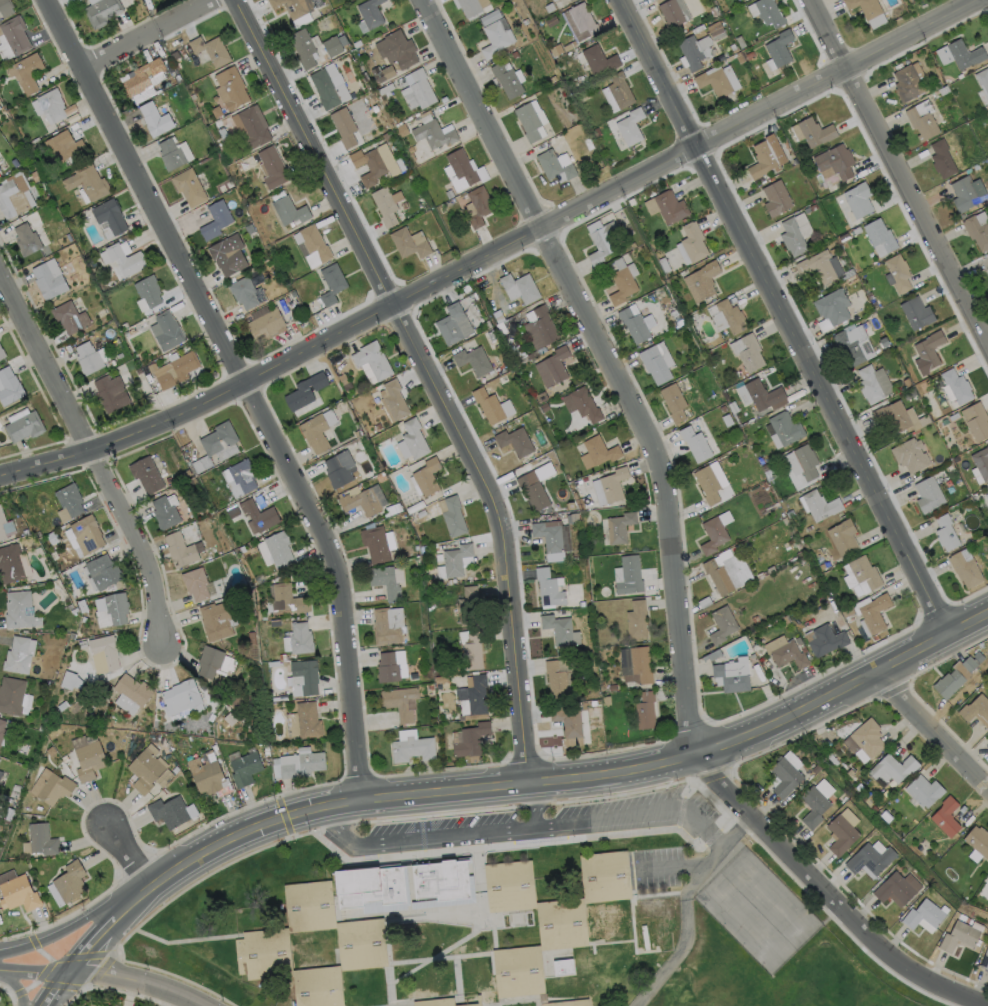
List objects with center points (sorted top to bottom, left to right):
building: (553, 0)
building: (569, 0)
building: (293, 6)
building: (5, 7)
building: (469, 7)
building: (864, 7)
building: (100, 11)
building: (768, 12)
building: (369, 13)
building: (673, 13)
building: (579, 20)
road: (147, 32)
building: (14, 34)
building: (495, 37)
building: (332, 46)
building: (303, 47)
building: (778, 47)
building: (210, 49)
building: (396, 49)
building: (690, 52)
building: (965, 53)
building: (598, 59)
building: (25, 70)
building: (141, 76)
building: (982, 78)
building: (506, 79)
building: (713, 81)
building: (907, 83)
building: (231, 87)
building: (324, 88)
building: (416, 90)
building: (619, 90)
building: (51, 104)
building: (154, 119)
building: (922, 119)
building: (527, 120)
building: (344, 126)
building: (629, 126)
building: (252, 127)
building: (812, 131)
building: (433, 134)
building: (61, 146)
building: (170, 153)
building: (765, 156)
building: (941, 158)
building: (835, 160)
building: (552, 165)
building: (461, 166)
building: (272, 167)
building: (373, 167)
building: (0, 169)
road: (899, 174)
building: (86, 181)
building: (188, 186)
road: (144, 189)
building: (963, 193)
building: (775, 197)
building: (6, 198)
building: (857, 199)
building: (384, 205)
building: (478, 205)
building: (669, 207)
building: (288, 210)
building: (109, 215)
building: (215, 219)
building: (977, 229)
building: (879, 235)
building: (791, 237)
building: (25, 239)
building: (314, 241)
building: (692, 241)
building: (408, 242)
building: (601, 242)
building: (299, 244)
road: (496, 250)
building: (227, 254)
building: (987, 256)
building: (124, 259)
building: (816, 266)
building: (987, 270)
building: (897, 272)
building: (48, 279)
building: (701, 281)
building: (331, 282)
building: (621, 285)
building: (519, 287)
building: (148, 290)
building: (245, 292)
building: (832, 306)
building: (916, 312)
building: (69, 317)
building: (728, 317)
road: (781, 317)
building: (453, 324)
building: (266, 325)
building: (633, 325)
building: (540, 328)
building: (166, 330)
building: (848, 348)
building: (746, 351)
building: (927, 351)
building: (1, 352)
building: (1, 356)
building: (87, 357)
building: (372, 360)
building: (473, 360)
building: (654, 364)
building: (552, 367)
building: (175, 369)
road: (434, 378)
building: (868, 384)
building: (956, 385)
building: (9, 386)
building: (304, 390)
building: (110, 392)
building: (758, 394)
building: (393, 399)
building: (673, 402)
building: (584, 404)
building: (488, 405)
building: (892, 415)
building: (975, 421)
building: (23, 426)
building: (785, 428)
building: (314, 433)
building: (218, 438)
building: (413, 438)
building: (514, 441)
building: (694, 443)
building: (599, 450)
building: (910, 454)
road: (95, 455)
building: (806, 461)
building: (981, 462)
building: (339, 468)
building: (145, 474)
building: (242, 475)
building: (426, 476)
building: (707, 484)
building: (609, 485)
building: (532, 490)
building: (987, 493)
building: (927, 494)
building: (987, 497)
building: (69, 499)
building: (361, 502)
building: (580, 502)
building: (819, 505)
building: (232, 510)
building: (164, 512)
building: (790, 512)
building: (257, 515)
building: (574, 516)
building: (452, 517)
building: (1, 526)
building: (620, 526)
building: (24, 531)
building: (716, 531)
building: (947, 532)
building: (86, 533)
building: (51, 536)
building: (843, 536)
building: (550, 537)
road: (673, 539)
building: (377, 542)
building: (179, 549)
building: (275, 550)
building: (454, 560)
building: (10, 563)
building: (823, 567)
building: (967, 568)
building: (102, 571)
building: (728, 572)
building: (862, 574)
building: (628, 575)
road: (337, 580)
building: (385, 581)
building: (429, 582)
building: (195, 583)
building: (549, 587)
building: (285, 599)
building: (81, 605)
building: (468, 605)
building: (18, 609)
building: (112, 609)
building: (875, 612)
building: (637, 618)
building: (787, 618)
building: (217, 619)
building: (755, 619)
building: (274, 623)
building: (723, 623)
building: (387, 624)
building: (560, 629)
building: (875, 637)
building: (251, 638)
building: (297, 638)
building: (799, 640)
building: (827, 640)
building: (82, 643)
building: (785, 651)
building: (103, 653)
building: (19, 654)
building: (472, 655)
building: (979, 655)
building: (281, 656)
building: (214, 661)
building: (969, 662)
building: (272, 663)
building: (284, 663)
building: (635, 664)
building: (387, 667)
building: (734, 674)
building: (411, 675)
building: (303, 677)
building: (440, 678)
building: (562, 678)
building: (69, 680)
building: (949, 682)
building: (429, 686)
building: (613, 687)
road: (846, 689)
building: (131, 693)
building: (11, 695)
building: (181, 697)
building: (474, 697)
building: (606, 699)
building: (401, 702)
building: (594, 702)
building: (61, 704)
building: (976, 708)
building: (645, 710)
building: (307, 719)
building: (570, 724)
building: (40, 727)
building: (1, 728)
road: (930, 731)
building: (986, 736)
building: (865, 737)
building: (469, 739)
building: (412, 746)
building: (215, 749)
building: (50, 750)
building: (87, 756)
building: (64, 757)
building: (298, 763)
building: (893, 767)
building: (146, 768)
building: (244, 768)
building: (0, 771)
building: (786, 772)
building: (852, 774)
building: (163, 777)
building: (208, 777)
building: (50, 786)
building: (923, 789)
building: (163, 790)
building: (14, 793)
road: (412, 798)
building: (815, 801)
building: (874, 807)
road: (536, 809)
building: (169, 812)
building: (947, 814)
building: (885, 815)
traffic signals: (286, 817)
road: (531, 830)
building: (842, 830)
building: (41, 839)
building: (977, 842)
road: (124, 850)
building: (869, 858)
building: (607, 878)
building: (442, 882)
building: (67, 883)
building: (510, 887)
building: (897, 887)
building: (373, 889)
building: (18, 893)
road: (126, 903)
building: (309, 906)
building: (924, 915)
building: (562, 927)
road: (71, 929)
building: (959, 935)
road: (92, 945)
building: (362, 945)
building: (265, 955)
building: (985, 961)
building: (564, 967)
road: (34, 970)
building: (520, 975)
park: (779, 980)
road: (136, 983)
road: (15, 987)
road: (55, 989)
building: (318, 991)
building: (441, 1002)

